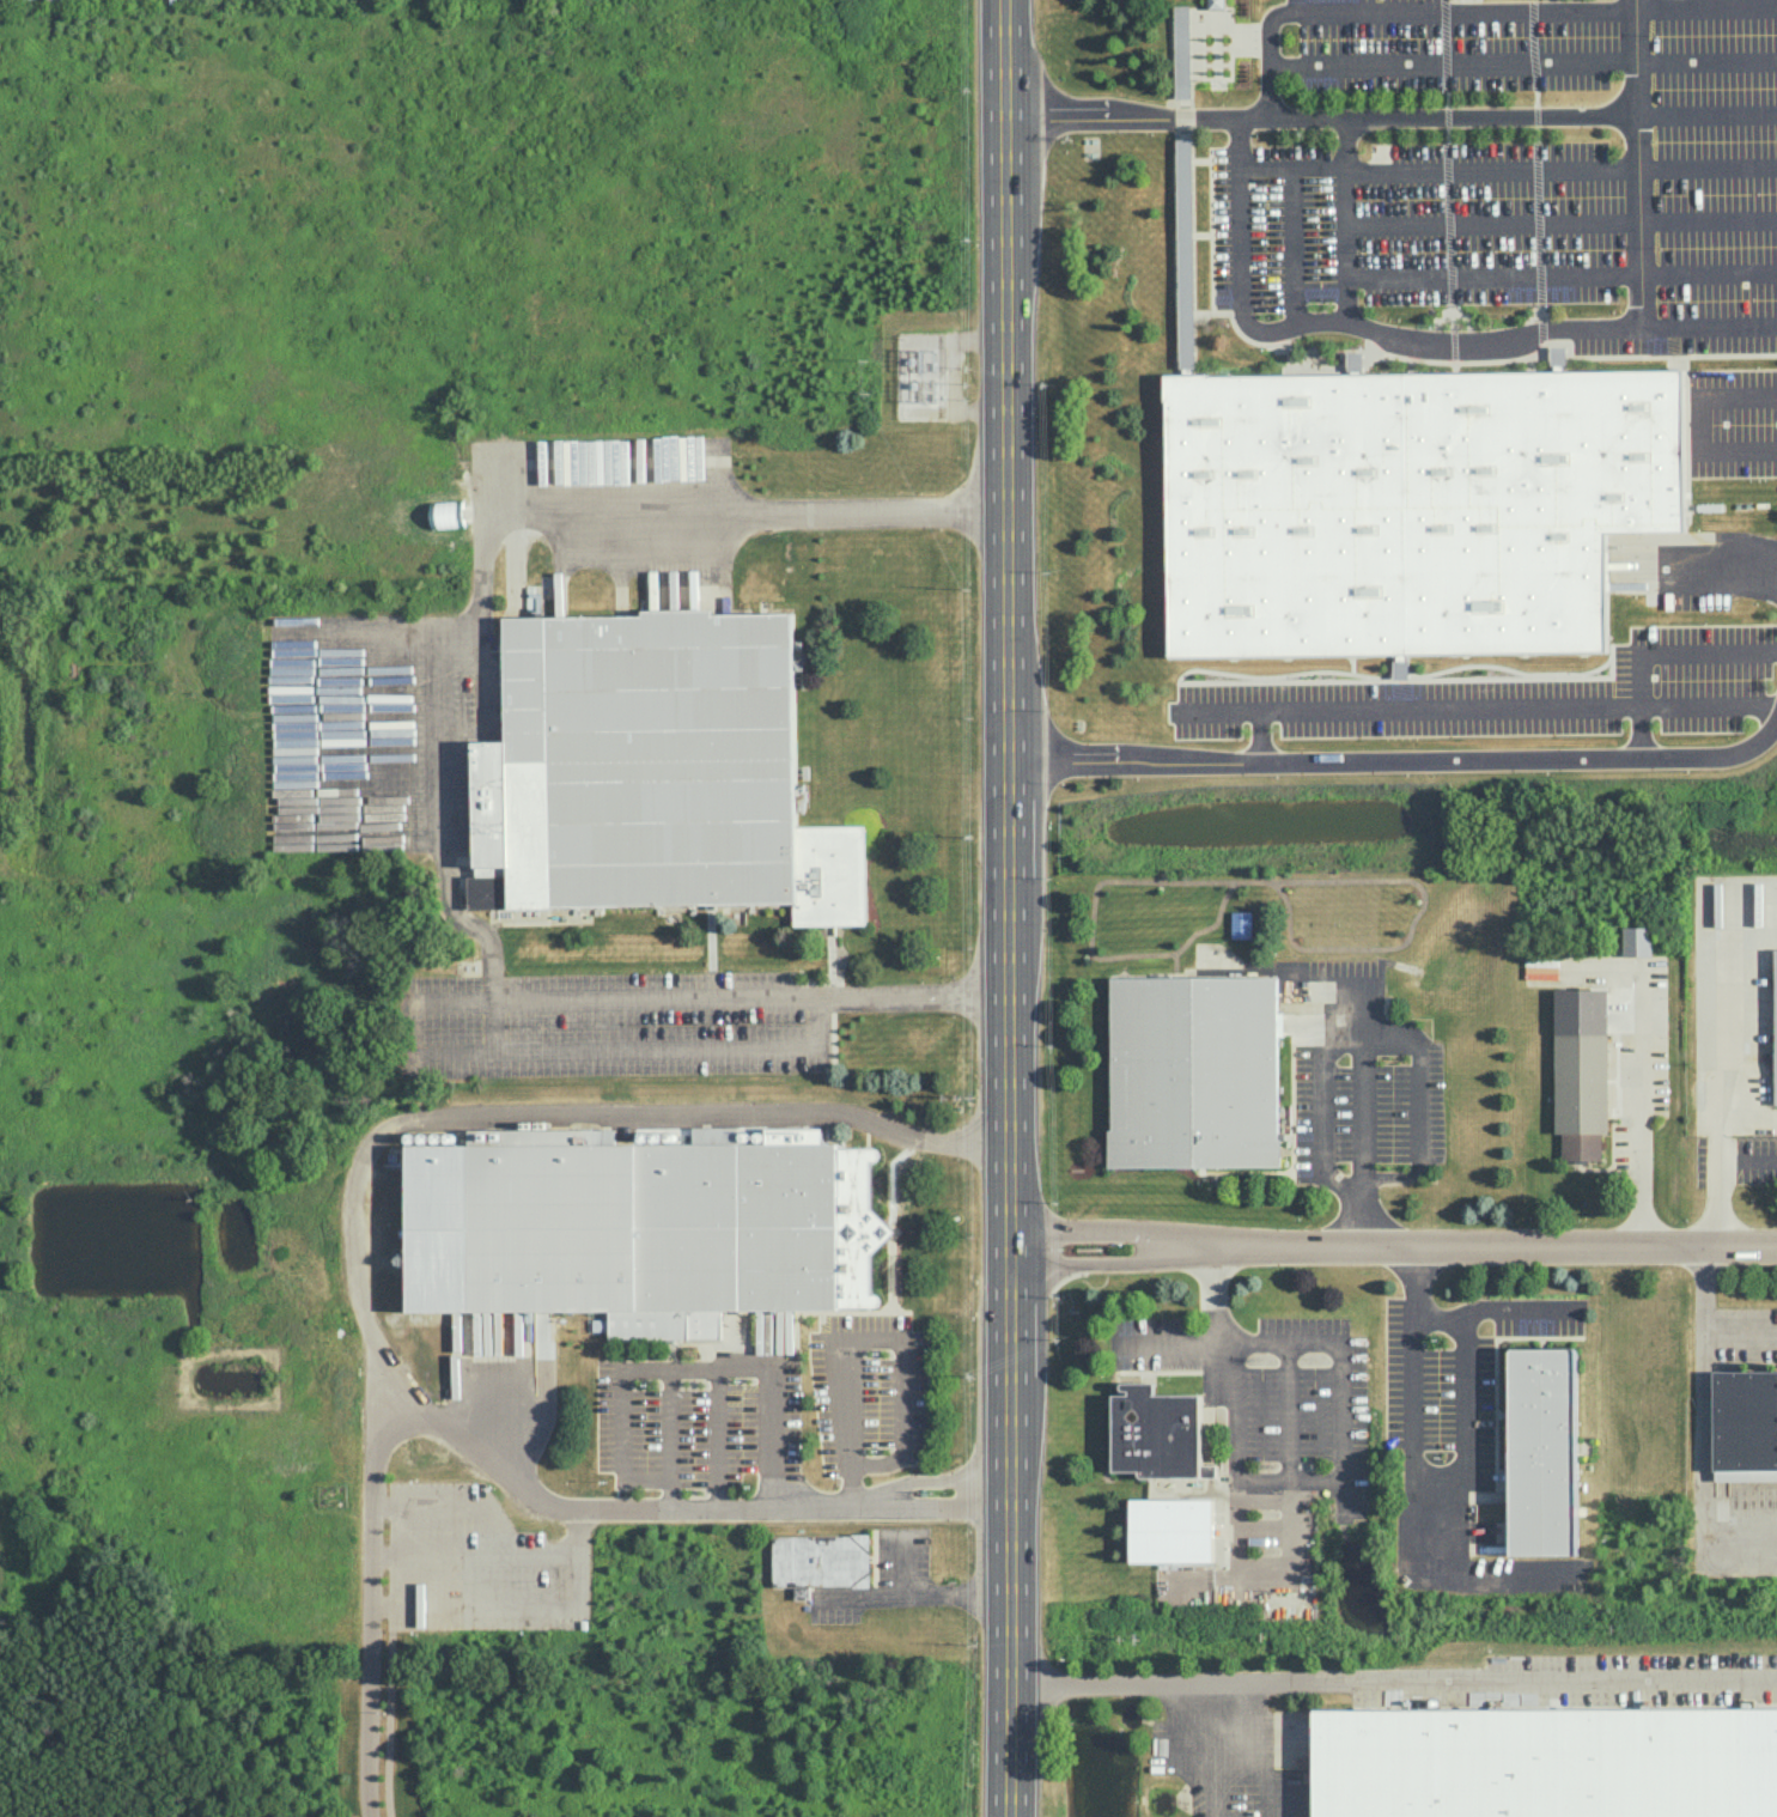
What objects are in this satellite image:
building: (1215, 4)
road: (1633, 5)
road: (1705, 10)
road: (1404, 12)
road: (1525, 63)
road: (1705, 116)
road: (1371, 121)
building: (1182, 148)
road: (1560, 171)
road: (1291, 219)
road: (1345, 225)
road: (1562, 225)
road: (1560, 278)
road: (1709, 330)
road: (1444, 350)
building: (1557, 355)
building: (1353, 361)
power substation: (920, 381)
road: (1696, 427)
building: (1408, 505)
road: (1709, 565)
road: (1005, 626)
road: (1682, 652)
building: (1400, 666)
road: (1490, 706)
road: (1221, 710)
road: (434, 733)
road: (328, 734)
road: (379, 734)
road: (279, 735)
road: (1404, 764)
building: (652, 772)
building: (1241, 924)
building: (1636, 941)
building: (1540, 968)
road: (1726, 991)
road: (1362, 1009)
building: (1775, 1026)
road: (1411, 1038)
road: (549, 1047)
building: (1192, 1071)
building: (1580, 1071)
road: (1641, 1112)
road: (1749, 1117)
road: (1749, 1161)
road: (1721, 1184)
road: (353, 1210)
building: (638, 1227)
road: (1392, 1251)
road: (1492, 1312)
road: (871, 1331)
road: (1740, 1333)
road: (673, 1366)
road: (1399, 1398)
road: (1285, 1410)
building: (1745, 1420)
road: (668, 1421)
road: (1465, 1424)
building: (1157, 1433)
road: (1700, 1434)
road: (718, 1435)
building: (1541, 1451)
road: (1341, 1466)
road: (933, 1479)
road: (994, 1485)
road: (938, 1505)
building: (1170, 1530)
road: (1006, 1535)
building: (820, 1558)
road: (902, 1564)
road: (504, 1566)
road: (1260, 1579)
road: (911, 1597)
road: (367, 1598)
road: (1508, 1676)
road: (1177, 1684)
road: (388, 1689)
building: (1545, 1762)
road: (1244, 1794)

